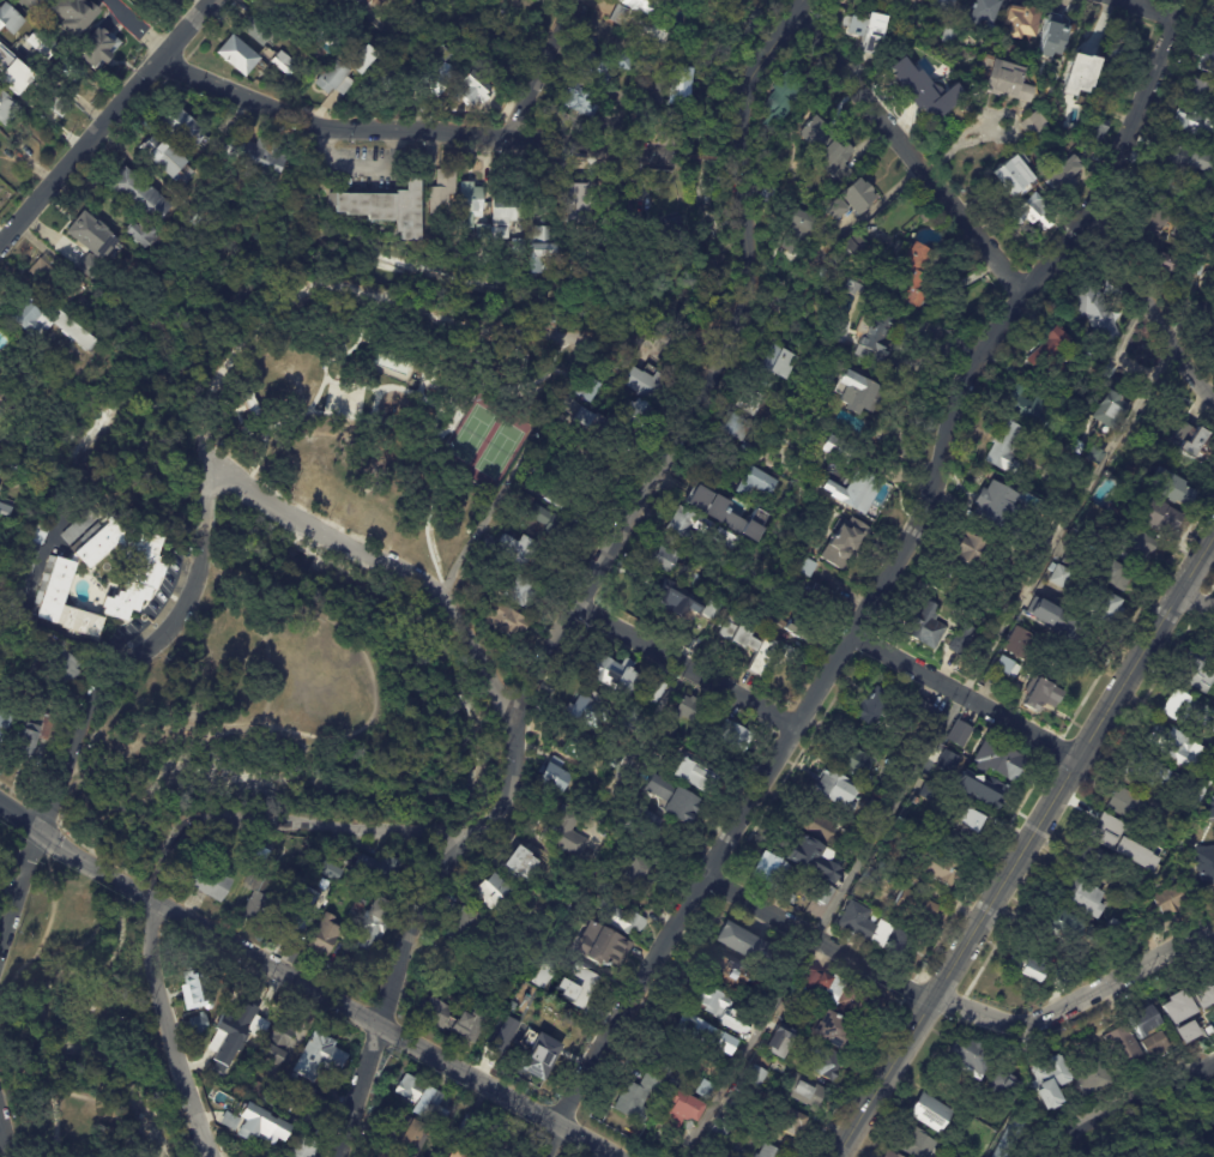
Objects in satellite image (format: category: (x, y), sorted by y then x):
building: (355, 0)
building: (358, 0)
building: (534, 0)
building: (301, 1)
building: (682, 1)
building: (919, 1)
building: (30, 2)
road: (200, 5)
building: (639, 5)
building: (942, 5)
building: (985, 11)
road: (1140, 12)
building: (276, 13)
building: (8, 16)
building: (79, 16)
building: (1022, 22)
road: (137, 25)
building: (864, 29)
building: (255, 31)
building: (1213, 32)
building: (308, 34)
building: (952, 36)
building: (653, 38)
building: (1053, 38)
building: (47, 43)
building: (102, 47)
building: (237, 52)
building: (1119, 53)
building: (1208, 60)
building: (10, 61)
building: (282, 61)
building: (620, 61)
road: (542, 67)
building: (593, 68)
building: (76, 70)
building: (342, 71)
building: (381, 74)
building: (1079, 74)
building: (1107, 78)
building: (433, 82)
building: (1003, 83)
building: (678, 85)
building: (918, 91)
building: (469, 92)
building: (1198, 92)
building: (781, 96)
building: (582, 100)
building: (1080, 101)
building: (7, 104)
building: (1099, 109)
building: (646, 114)
road: (107, 122)
building: (1029, 125)
building: (1191, 125)
building: (181, 127)
building: (1095, 131)
road: (403, 133)
building: (825, 145)
road: (904, 153)
building: (255, 156)
road: (697, 156)
building: (1185, 158)
building: (165, 159)
building: (1062, 175)
building: (1011, 177)
building: (1166, 188)
building: (441, 192)
building: (139, 194)
building: (576, 194)
building: (857, 194)
building: (469, 203)
building: (545, 204)
building: (387, 206)
building: (832, 207)
building: (500, 211)
building: (1032, 213)
building: (924, 215)
building: (1152, 225)
building: (798, 228)
building: (671, 231)
building: (143, 233)
building: (87, 240)
building: (434, 241)
building: (520, 245)
building: (538, 246)
building: (825, 246)
building: (853, 249)
building: (1168, 263)
building: (1202, 271)
building: (908, 272)
building: (822, 273)
building: (52, 281)
road: (345, 287)
road: (1148, 307)
building: (24, 317)
building: (1099, 319)
building: (68, 329)
building: (835, 330)
road: (659, 339)
building: (872, 339)
building: (1046, 351)
building: (594, 357)
building: (778, 360)
building: (392, 363)
road: (328, 374)
road: (451, 378)
road: (527, 380)
building: (650, 381)
building: (584, 386)
building: (851, 390)
building: (1, 397)
park: (343, 400)
building: (250, 403)
building: (751, 404)
building: (1029, 408)
building: (1106, 408)
building: (635, 412)
building: (588, 420)
park: (382, 423)
building: (733, 426)
road: (266, 429)
park: (484, 439)
building: (1182, 441)
building: (617, 444)
building: (1004, 446)
building: (748, 448)
building: (834, 448)
building: (1094, 456)
road: (254, 462)
building: (12, 464)
park: (151, 465)
road: (512, 468)
road: (433, 475)
building: (599, 477)
building: (756, 481)
building: (1168, 486)
road: (205, 488)
building: (854, 490)
building: (992, 504)
building: (5, 507)
building: (726, 513)
building: (1156, 516)
building: (544, 522)
building: (685, 523)
building: (77, 525)
building: (1050, 529)
road: (203, 534)
building: (724, 537)
building: (1130, 540)
building: (840, 544)
building: (512, 548)
building: (965, 549)
building: (32, 559)
building: (665, 559)
road: (379, 561)
building: (805, 566)
building: (147, 570)
building: (1117, 570)
building: (1058, 576)
road: (886, 584)
building: (60, 586)
building: (515, 590)
road: (593, 590)
building: (684, 597)
building: (819, 598)
road: (1194, 604)
road: (241, 607)
building: (1099, 608)
building: (1049, 615)
road: (25, 619)
building: (503, 619)
building: (767, 620)
building: (924, 625)
building: (792, 626)
building: (960, 641)
building: (1016, 643)
building: (745, 645)
road: (364, 651)
building: (64, 664)
building: (1004, 665)
road: (691, 667)
building: (611, 673)
building: (1200, 674)
building: (651, 689)
road: (968, 695)
building: (1041, 695)
park: (290, 706)
building: (871, 706)
building: (688, 707)
building: (1189, 710)
building: (586, 711)
building: (926, 711)
building: (1, 724)
road: (222, 727)
building: (958, 733)
building: (732, 734)
building: (28, 736)
road: (79, 743)
building: (573, 746)
building: (1174, 746)
road: (925, 751)
building: (851, 759)
building: (996, 760)
building: (687, 775)
building: (1165, 776)
building: (552, 778)
building: (1207, 781)
building: (979, 789)
building: (836, 790)
building: (670, 799)
building: (1125, 803)
building: (871, 807)
building: (1210, 809)
building: (278, 820)
building: (967, 820)
building: (640, 822)
building: (816, 825)
building: (563, 831)
building: (1107, 833)
road: (46, 834)
road: (121, 837)
building: (1147, 839)
road: (1027, 845)
road: (167, 850)
building: (0, 857)
building: (811, 858)
building: (1092, 860)
building: (515, 862)
building: (1204, 862)
building: (375, 868)
building: (324, 869)
building: (769, 869)
building: (942, 869)
building: (639, 873)
building: (910, 876)
road: (116, 879)
building: (205, 879)
building: (838, 882)
building: (489, 892)
building: (821, 893)
building: (1079, 896)
building: (256, 897)
building: (374, 897)
building: (787, 898)
building: (1168, 899)
building: (912, 906)
building: (357, 908)
building: (616, 912)
building: (297, 915)
building: (1059, 921)
building: (1112, 926)
building: (469, 927)
building: (870, 928)
building: (367, 934)
building: (321, 936)
building: (737, 942)
building: (599, 947)
building: (1032, 964)
road: (28, 968)
building: (1065, 972)
building: (726, 976)
road: (16, 980)
building: (194, 987)
building: (575, 987)
building: (836, 993)
building: (1197, 1000)
building: (712, 1002)
road: (955, 1008)
building: (246, 1017)
building: (796, 1019)
road: (383, 1020)
building: (453, 1020)
building: (1143, 1020)
building: (195, 1022)
park: (84, 1029)
building: (229, 1029)
building: (828, 1029)
building: (694, 1030)
building: (1184, 1031)
building: (505, 1035)
building: (278, 1043)
building: (724, 1043)
building: (1155, 1043)
building: (1123, 1047)
building: (771, 1049)
building: (232, 1054)
building: (318, 1055)
building: (545, 1057)
building: (965, 1057)
building: (823, 1062)
building: (216, 1072)
building: (1091, 1074)
building: (754, 1077)
building: (1049, 1080)
building: (1003, 1086)
building: (703, 1089)
building: (802, 1091)
building: (258, 1092)
building: (422, 1098)
building: (636, 1098)
road: (80, 1099)
building: (277, 1108)
building: (929, 1109)
building: (314, 1110)
building: (680, 1111)
road: (1135, 1111)
building: (789, 1120)
building: (249, 1126)
building: (464, 1126)
building: (719, 1126)
building: (405, 1132)
road: (5, 1134)
building: (282, 1134)
building: (1010, 1138)
building: (914, 1141)
building: (298, 1146)
building: (768, 1151)
building: (458, 1153)
building: (381, 1155)
building: (887, 1155)
building: (720, 1156)

